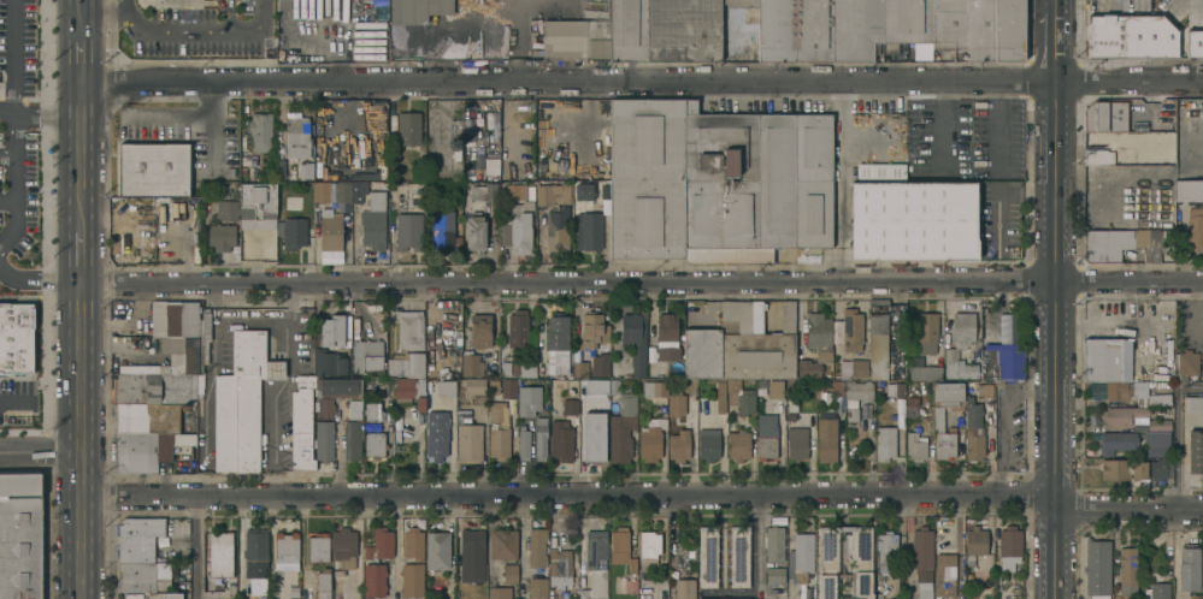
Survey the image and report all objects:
building: (741, 2)
building: (283, 5)
road: (128, 7)
building: (313, 8)
building: (417, 10)
road: (106, 14)
building: (907, 20)
road: (258, 25)
building: (962, 28)
building: (683, 29)
building: (855, 29)
road: (176, 30)
building: (627, 30)
building: (776, 30)
building: (812, 30)
building: (1007, 30)
building: (1128, 36)
building: (598, 37)
road: (517, 38)
building: (564, 38)
building: (1193, 43)
parking lot: (17, 47)
road: (12, 57)
road: (642, 79)
road: (7, 114)
road: (83, 114)
building: (1103, 117)
building: (408, 127)
building: (296, 129)
building: (261, 131)
building: (1187, 137)
building: (645, 138)
building: (718, 144)
building: (812, 146)
road: (16, 149)
building: (297, 153)
building: (1164, 153)
road: (7, 156)
building: (1096, 156)
building: (489, 167)
building: (306, 170)
building: (153, 171)
building: (774, 183)
building: (322, 190)
building: (358, 190)
building: (603, 190)
building: (1167, 190)
building: (1189, 190)
building: (343, 191)
building: (476, 191)
building: (518, 191)
building: (583, 191)
parking lot: (17, 192)
building: (561, 192)
building: (544, 194)
building: (376, 200)
road: (1099, 202)
building: (258, 206)
building: (226, 208)
building: (813, 213)
building: (910, 215)
building: (645, 218)
building: (720, 220)
building: (518, 226)
building: (373, 227)
building: (1195, 227)
building: (330, 229)
building: (556, 229)
building: (443, 230)
building: (590, 230)
building: (294, 231)
building: (408, 231)
building: (476, 232)
building: (220, 236)
building: (1107, 243)
road: (81, 255)
road: (39, 280)
road: (642, 283)
road: (1054, 298)
building: (1202, 316)
building: (182, 319)
building: (904, 319)
building: (411, 328)
building: (517, 328)
building: (851, 328)
building: (962, 328)
building: (332, 330)
building: (480, 330)
building: (927, 331)
building: (206, 332)
building: (556, 332)
building: (591, 333)
building: (667, 336)
building: (16, 338)
building: (635, 338)
building: (171, 344)
building: (755, 344)
building: (815, 344)
building: (878, 345)
building: (1202, 349)
building: (191, 352)
building: (702, 352)
building: (367, 355)
building: (1101, 360)
building: (328, 362)
building: (1187, 362)
building: (407, 363)
building: (471, 363)
building: (561, 363)
building: (600, 364)
building: (957, 364)
building: (1001, 364)
building: (857, 367)
building: (137, 368)
building: (524, 368)
building: (580, 368)
building: (1202, 369)
building: (924, 370)
road: (208, 374)
building: (473, 385)
road: (1190, 385)
building: (152, 387)
road: (276, 387)
building: (338, 387)
building: (508, 387)
building: (774, 387)
building: (655, 389)
building: (894, 389)
building: (984, 389)
building: (409, 390)
building: (732, 390)
building: (859, 390)
building: (948, 392)
building: (1116, 392)
parking lot: (17, 398)
building: (720, 398)
building: (529, 399)
building: (1157, 399)
road: (16, 401)
building: (745, 402)
building: (241, 403)
building: (676, 403)
building: (1192, 403)
building: (302, 405)
building: (570, 405)
building: (910, 405)
building: (324, 407)
building: (354, 409)
building: (372, 411)
building: (850, 411)
building: (972, 411)
building: (1121, 415)
building: (148, 417)
building: (594, 417)
building: (767, 423)
building: (1157, 425)
building: (623, 428)
building: (499, 432)
building: (436, 434)
building: (826, 435)
building: (541, 437)
road: (78, 439)
building: (651, 439)
building: (323, 440)
building: (352, 440)
building: (561, 440)
building: (468, 441)
building: (796, 441)
building: (884, 441)
building: (1115, 441)
building: (524, 443)
building: (973, 443)
building: (375, 444)
building: (708, 444)
building: (738, 444)
building: (944, 444)
building: (1156, 444)
building: (679, 445)
building: (915, 445)
road: (1177, 446)
building: (766, 447)
building: (148, 449)
building: (301, 450)
building: (1193, 452)
road: (39, 453)
building: (1121, 469)
building: (1158, 469)
road: (641, 496)
building: (20, 535)
building: (138, 538)
building: (1009, 541)
building: (413, 542)
building: (774, 542)
building: (974, 542)
building: (285, 544)
building: (379, 544)
building: (503, 544)
building: (619, 545)
building: (256, 547)
building: (318, 547)
building: (343, 547)
building: (536, 547)
building: (596, 547)
road: (196, 548)
building: (922, 548)
building: (437, 550)
building: (649, 550)
building: (803, 551)
building: (220, 553)
building: (885, 553)
building: (472, 554)
building: (707, 554)
building: (739, 554)
building: (827, 562)
building: (1202, 563)
building: (632, 564)
building: (559, 567)
building: (1097, 568)
building: (1189, 568)
building: (1127, 570)
building: (509, 573)
building: (774, 574)
building: (944, 574)
building: (143, 576)
building: (375, 580)
building: (412, 580)
building: (323, 583)
building: (537, 587)
building: (684, 588)
building: (1157, 591)
building: (499, 592)
building: (583, 593)
building: (171, 595)
building: (723, 598)

